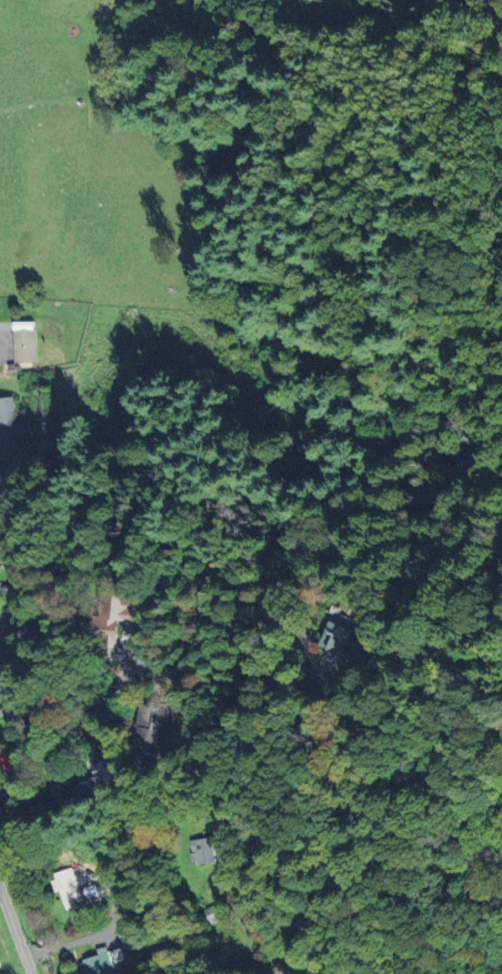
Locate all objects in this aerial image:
building: (24, 341)
road: (3, 344)
building: (12, 423)
building: (112, 619)
building: (338, 637)
building: (10, 651)
road: (185, 694)
building: (8, 698)
building: (152, 735)
building: (9, 761)
building: (104, 778)
building: (205, 850)
building: (67, 887)
building: (214, 914)
road: (225, 917)
road: (15, 932)
road: (300, 969)

